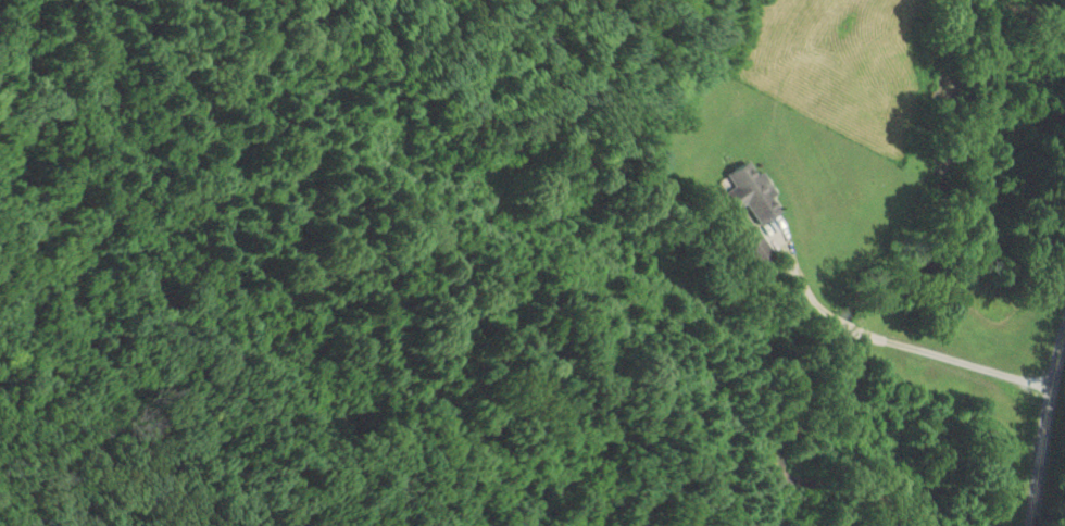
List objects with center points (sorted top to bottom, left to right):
building: (755, 193)
building: (761, 252)
road: (1048, 441)

